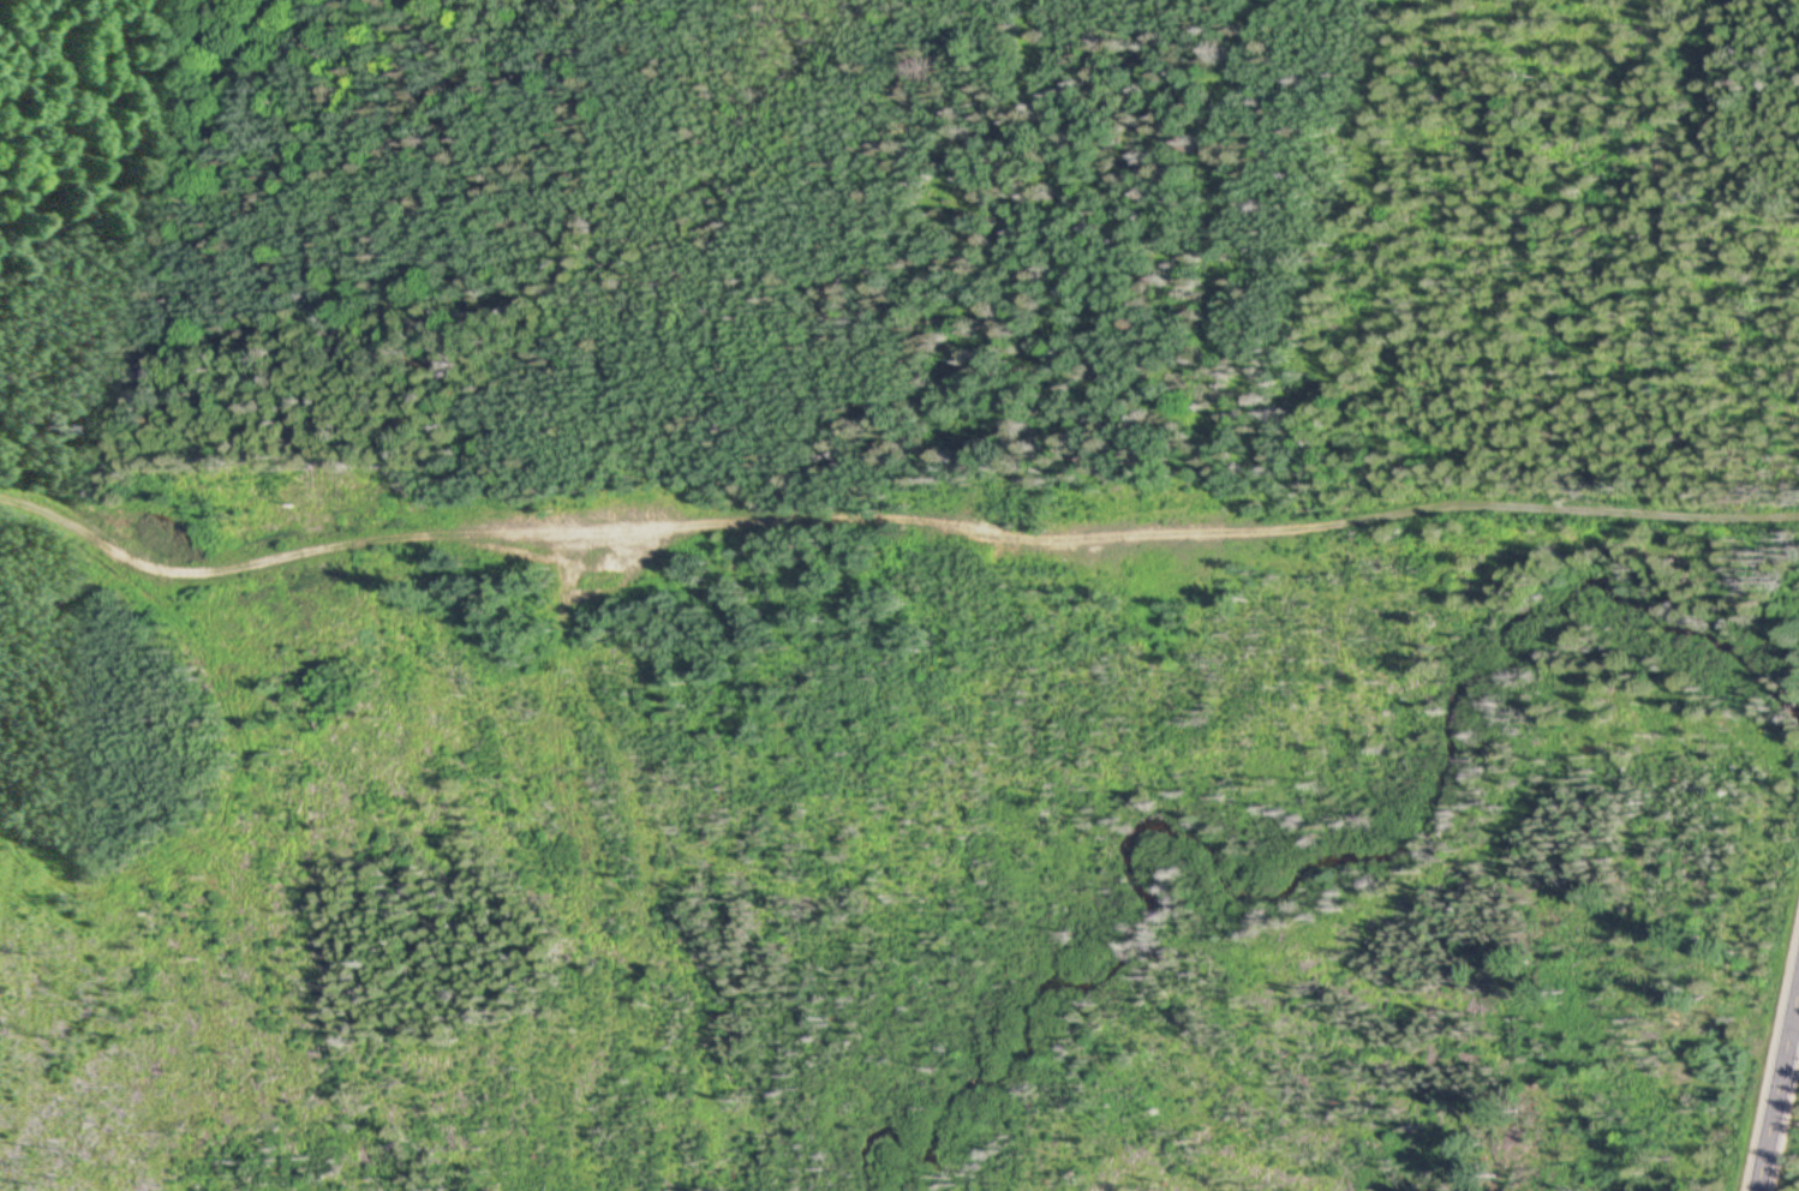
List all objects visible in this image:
road: (950, 528)
road: (1779, 1095)

